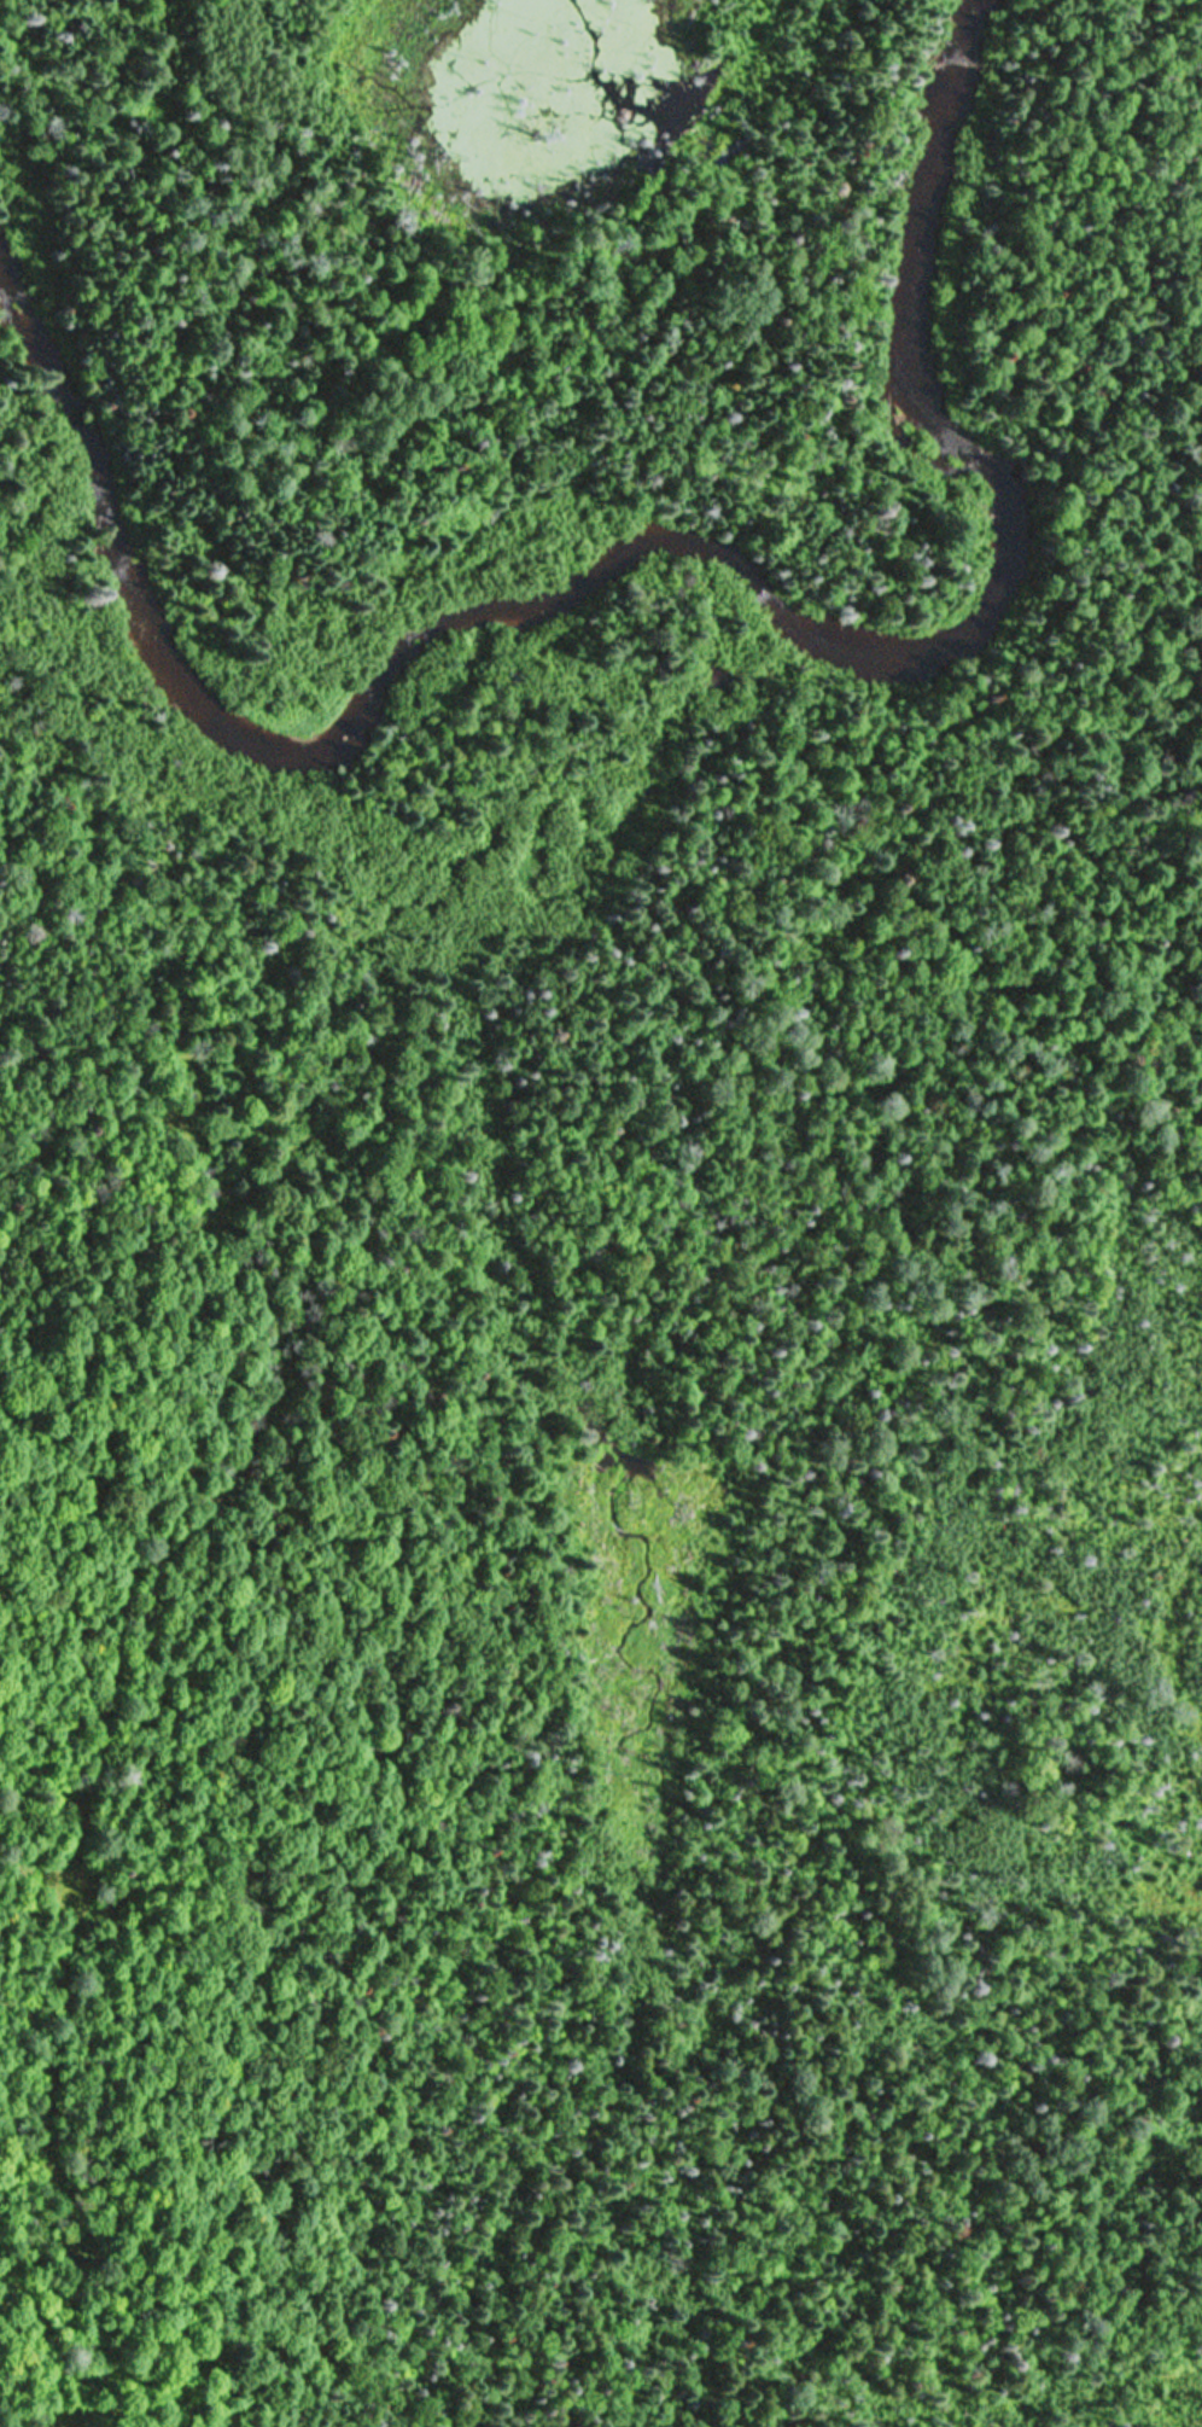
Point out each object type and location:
river: (916, 418)
river: (291, 752)

